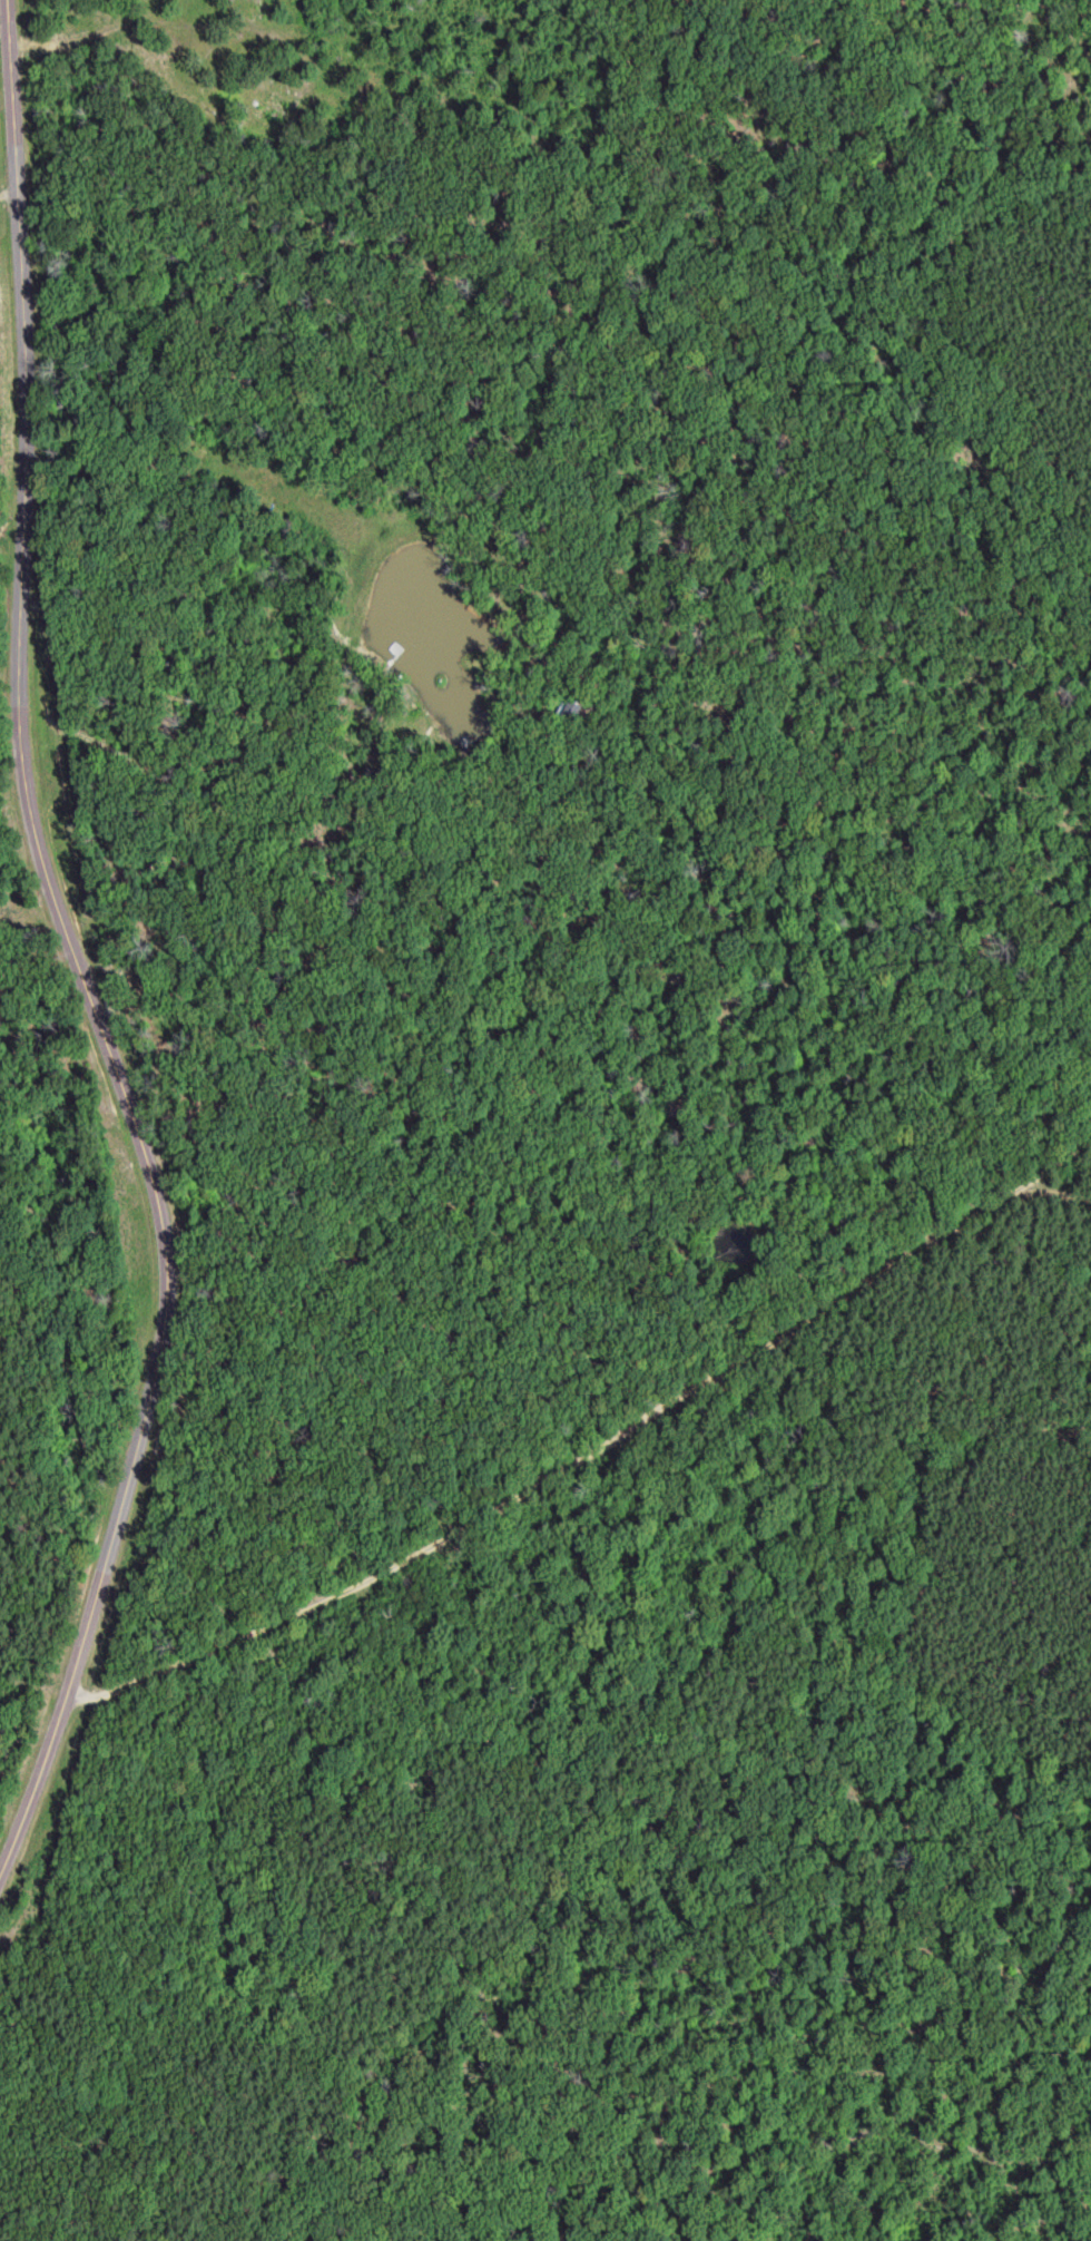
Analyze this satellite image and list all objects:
road: (156, 23)
road: (41, 861)
road: (592, 1456)
road: (32, 1765)

